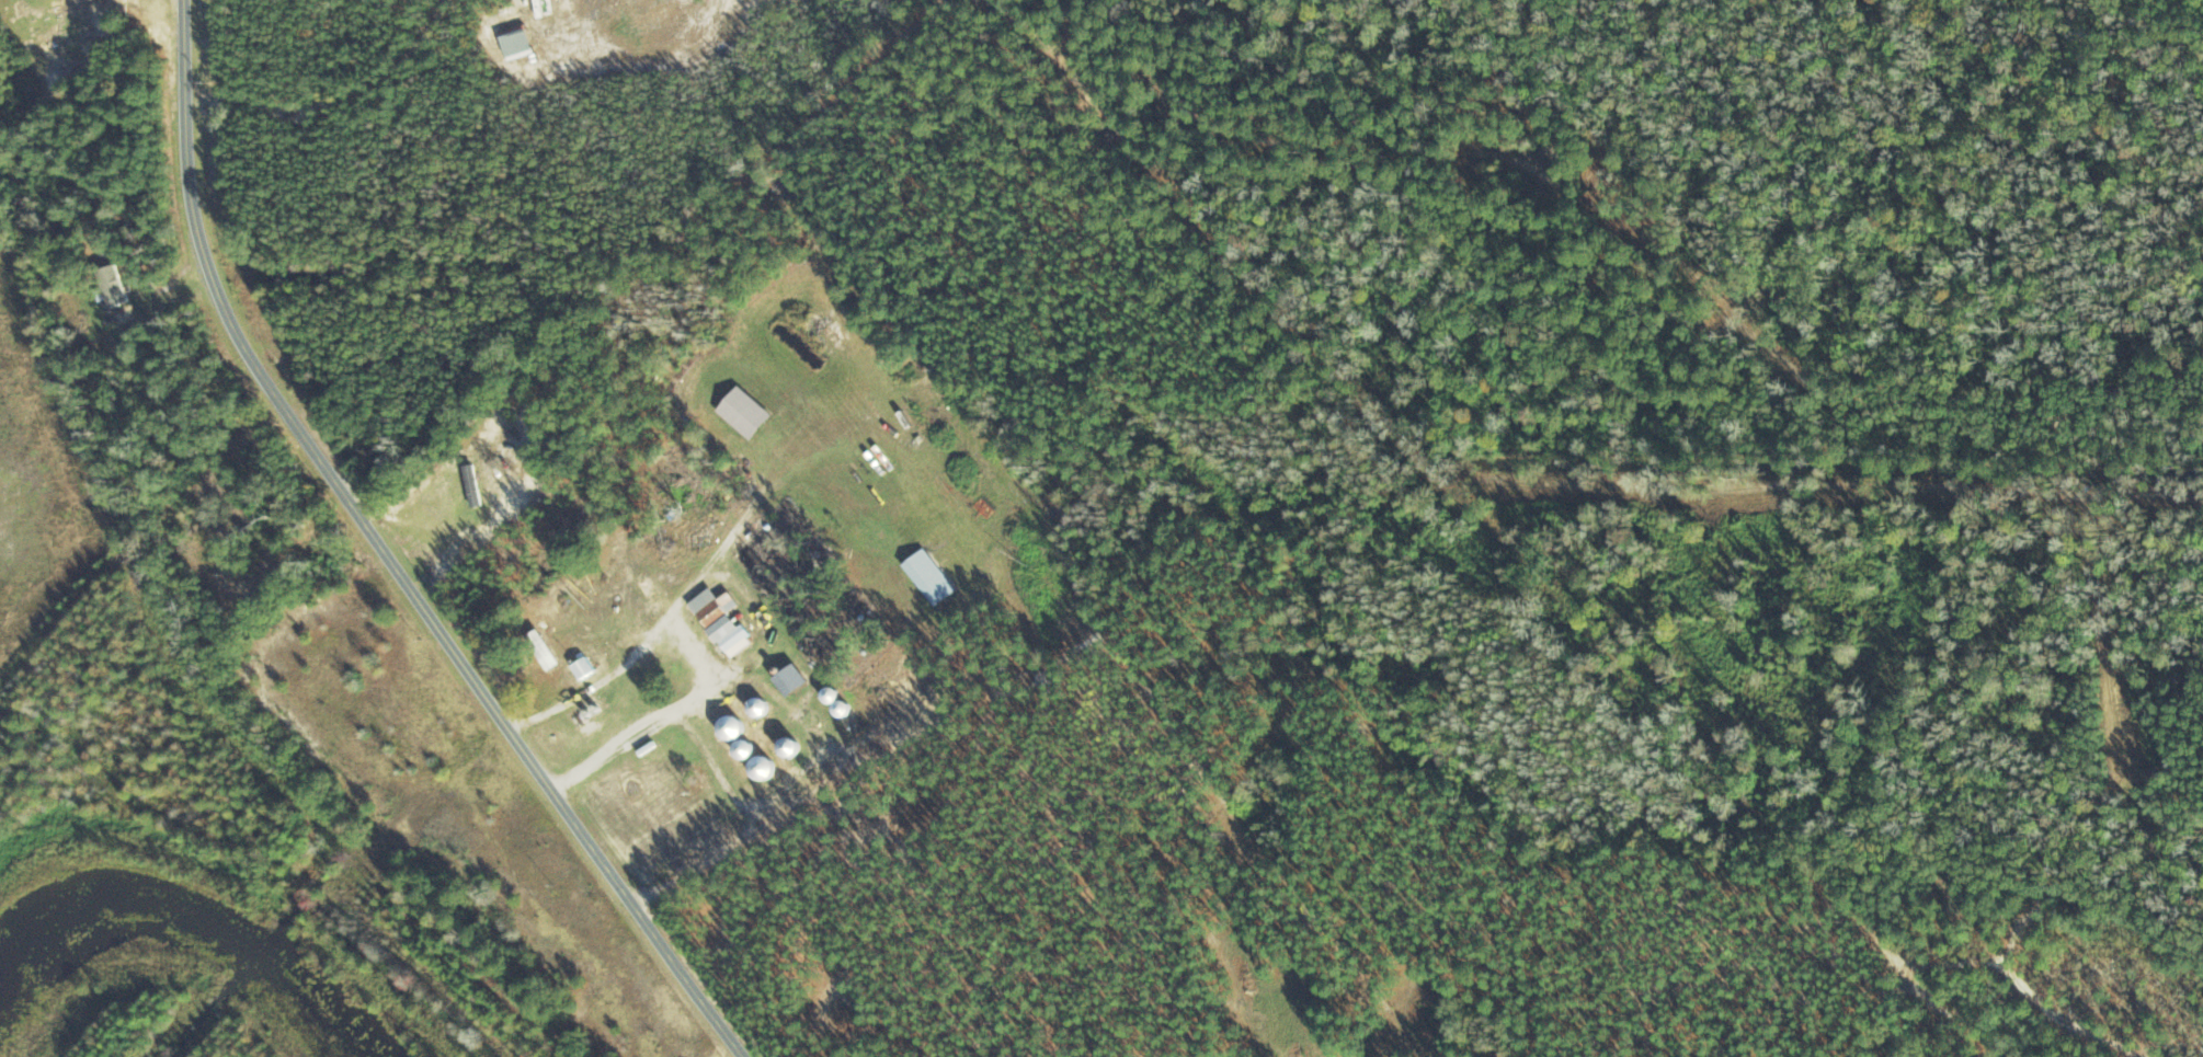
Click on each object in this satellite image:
building: (100, 262)
building: (471, 485)
road: (388, 556)
building: (720, 620)
building: (541, 650)
building: (582, 667)
building: (756, 706)
building: (729, 727)
building: (787, 747)
building: (742, 749)
building: (761, 767)
road: (1397, 882)

